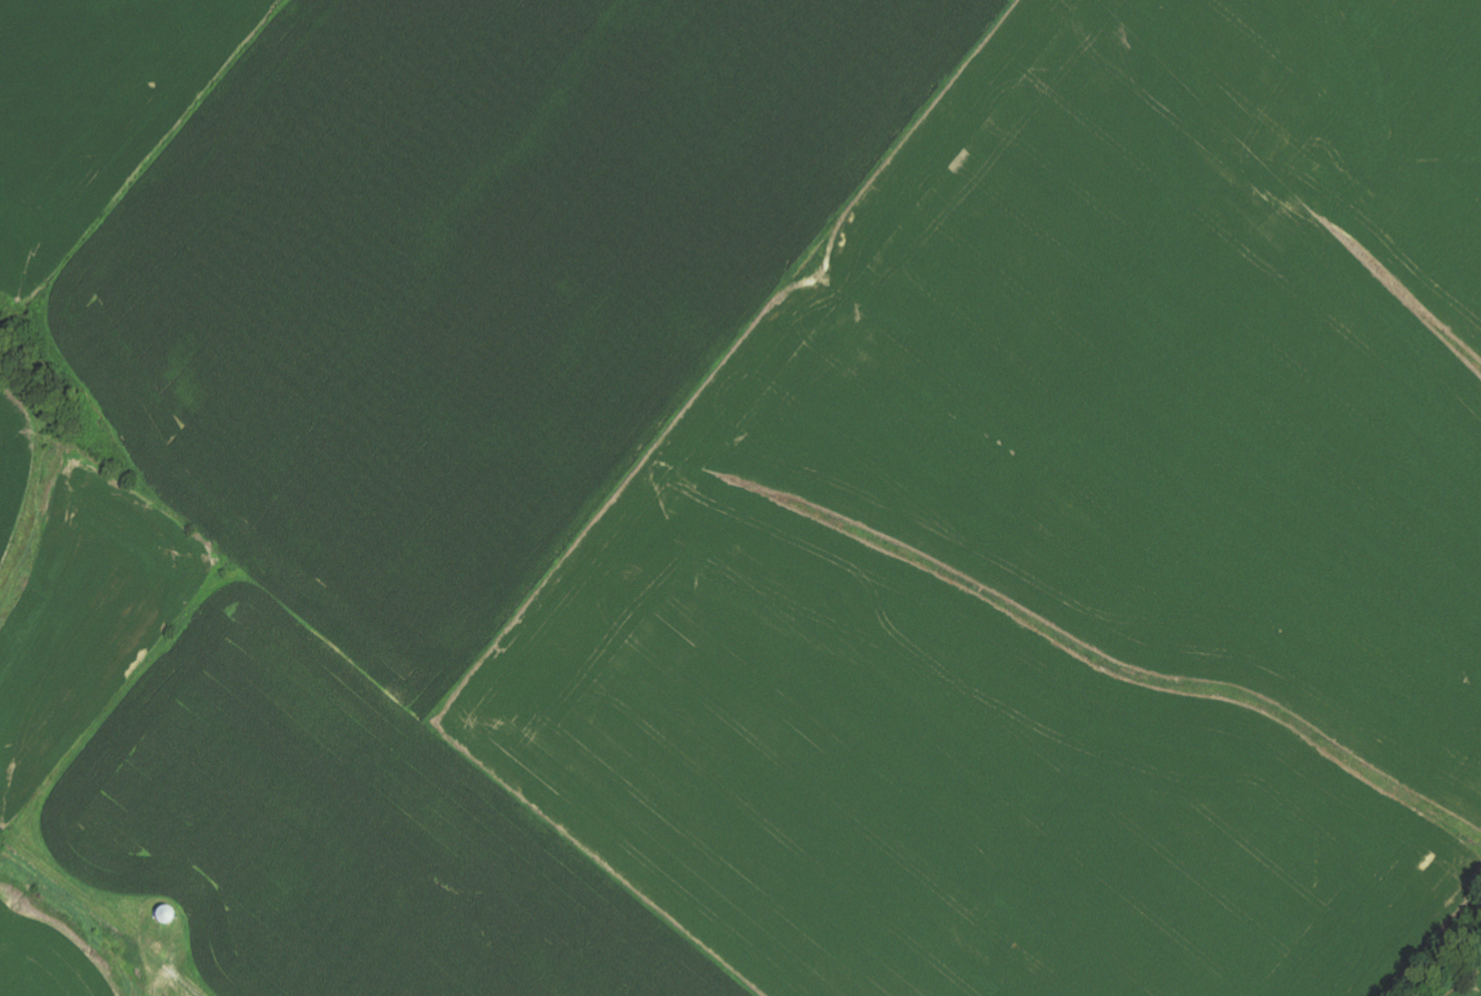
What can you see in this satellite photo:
road: (98, 917)

